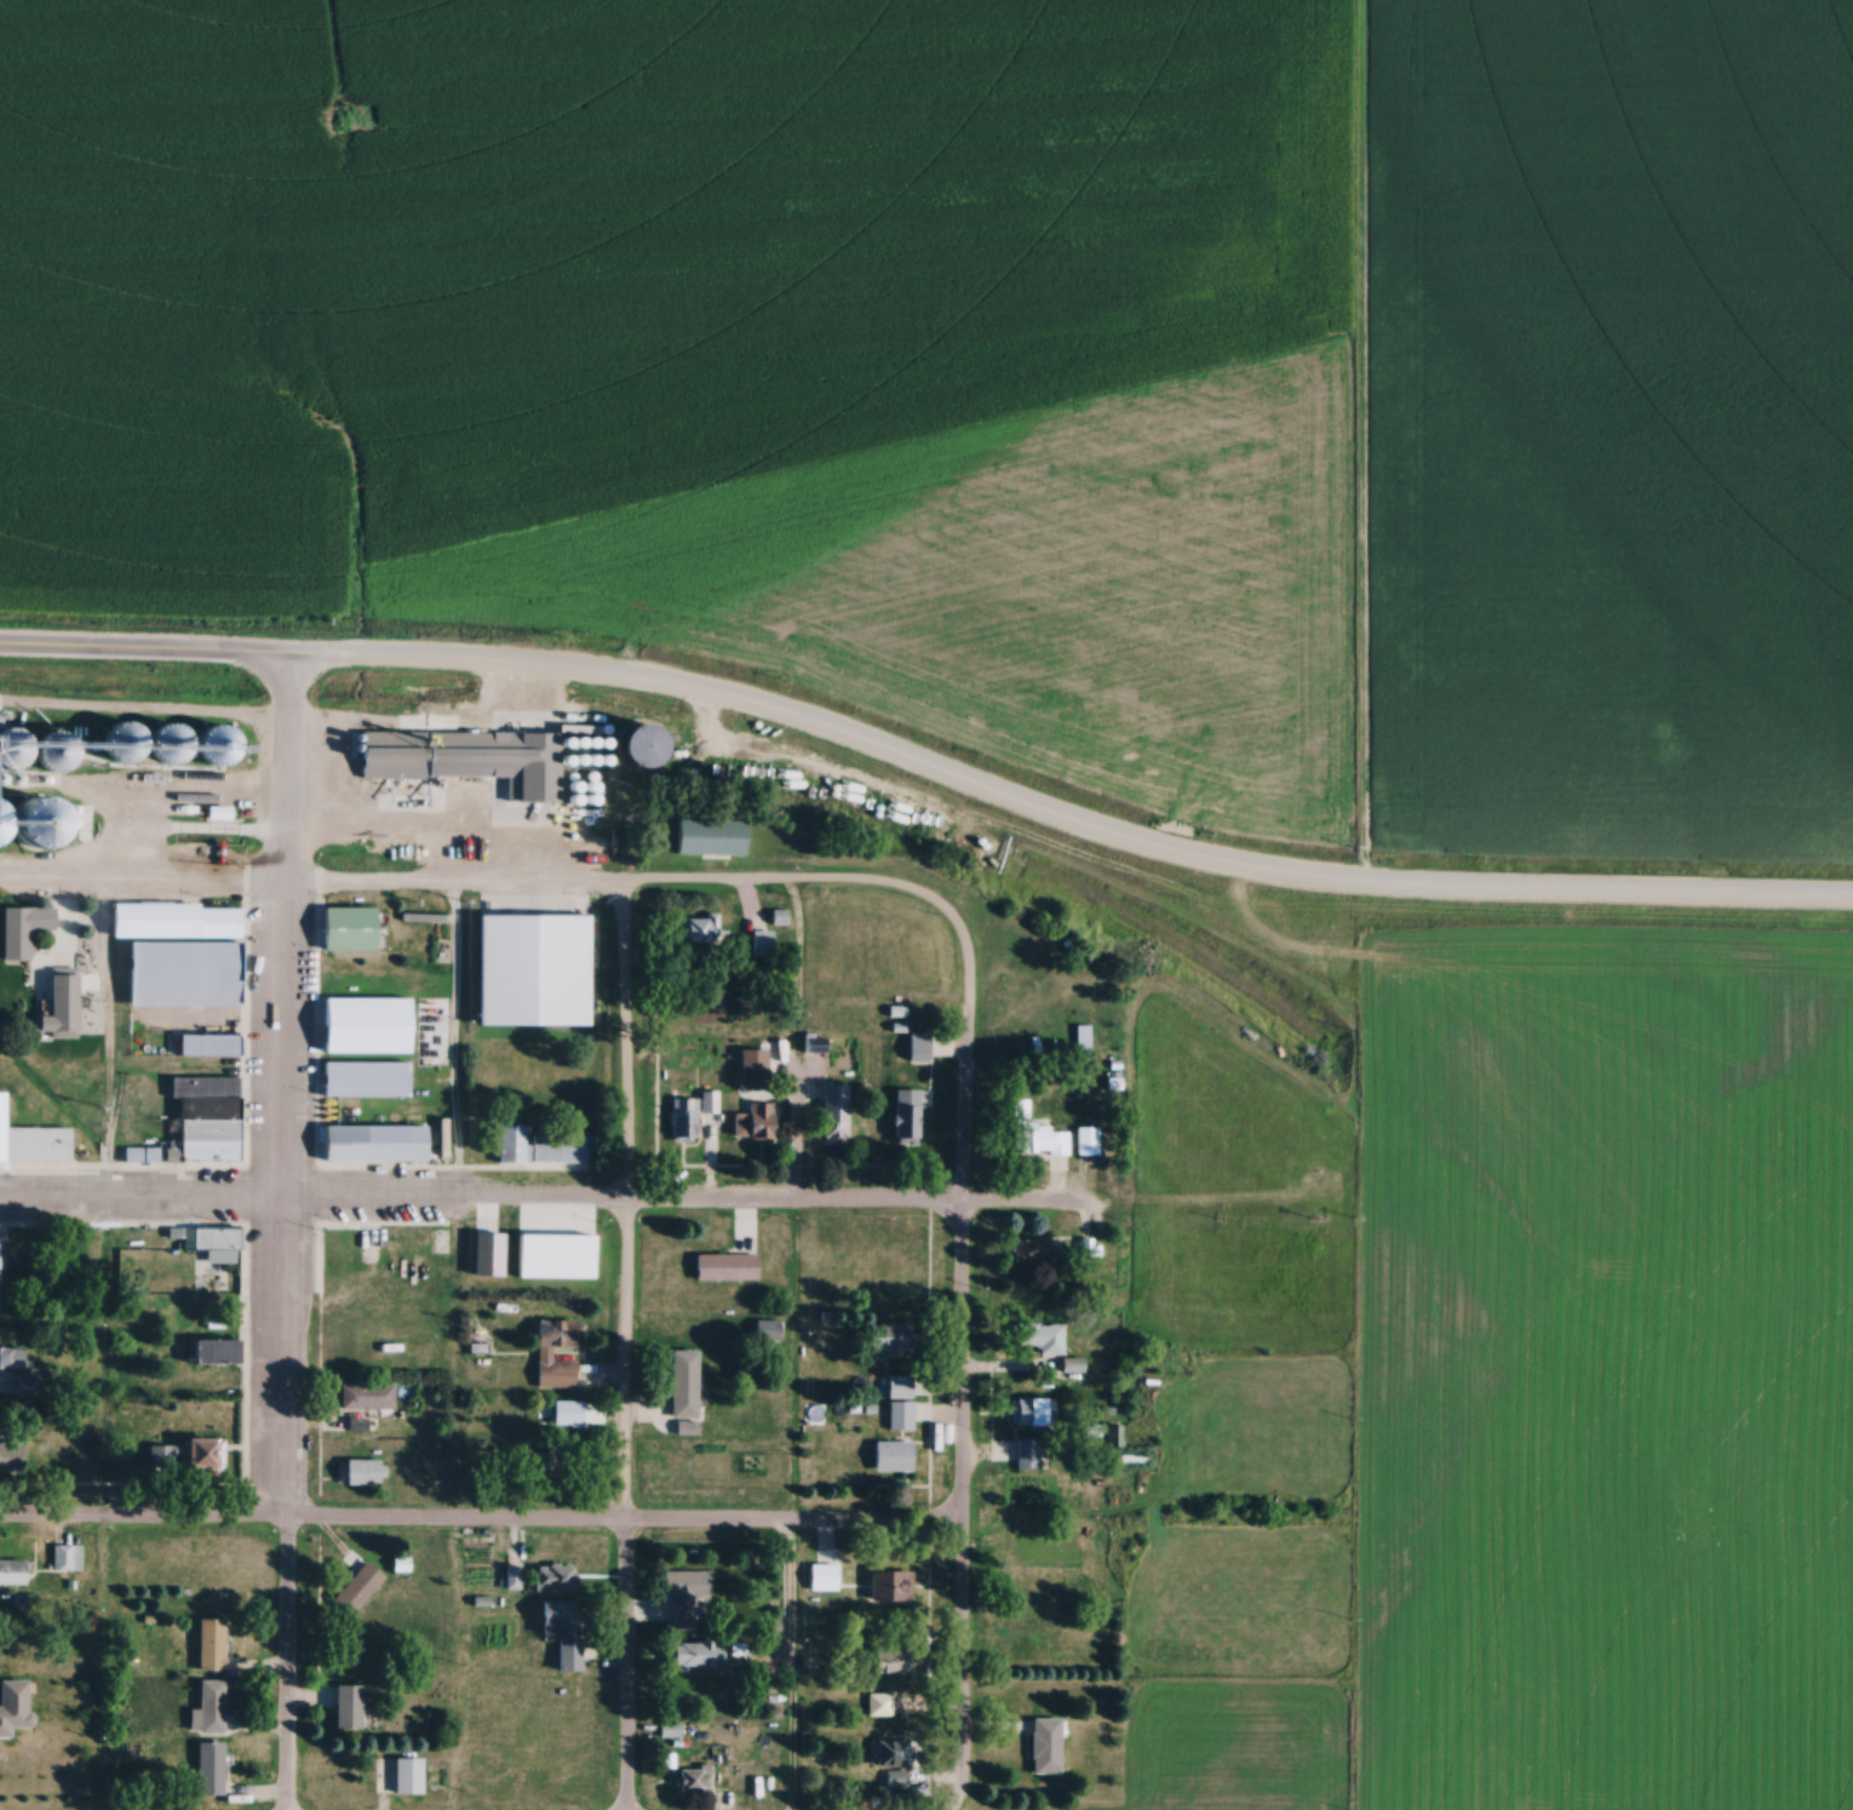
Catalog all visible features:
road: (142, 654)
road: (426, 731)
building: (208, 748)
building: (476, 754)
road: (1060, 824)
road: (396, 888)
building: (174, 921)
building: (563, 927)
building: (700, 928)
building: (22, 929)
building: (348, 929)
building: (761, 943)
building: (182, 974)
building: (59, 1006)
building: (365, 1024)
building: (1079, 1041)
building: (814, 1042)
building: (205, 1044)
road: (799, 1044)
road: (109, 1046)
building: (916, 1046)
building: (753, 1067)
building: (365, 1078)
building: (711, 1101)
building: (833, 1112)
building: (905, 1113)
building: (685, 1118)
building: (203, 1119)
building: (755, 1121)
building: (1032, 1130)
building: (1084, 1139)
building: (372, 1141)
building: (33, 1144)
building: (545, 1145)
building: (139, 1155)
road: (555, 1203)
road: (280, 1235)
building: (212, 1242)
building: (340, 1244)
building: (583, 1245)
building: (1029, 1250)
building: (732, 1260)
road: (963, 1281)
building: (1040, 1336)
building: (885, 1341)
road: (626, 1347)
building: (213, 1351)
building: (544, 1352)
building: (1071, 1364)
building: (21, 1374)
building: (682, 1382)
building: (899, 1386)
building: (368, 1394)
building: (566, 1410)
building: (1029, 1410)
building: (900, 1415)
building: (1113, 1434)
building: (190, 1454)
building: (1027, 1454)
building: (11, 1455)
building: (890, 1455)
building: (361, 1471)
road: (481, 1522)
building: (69, 1558)
building: (15, 1571)
building: (552, 1577)
building: (890, 1585)
building: (356, 1590)
building: (681, 1593)
building: (561, 1629)
building: (210, 1644)
building: (693, 1654)
building: (887, 1659)
road: (791, 1668)
building: (878, 1702)
building: (12, 1703)
building: (211, 1706)
building: (346, 1706)
building: (670, 1729)
building: (1043, 1745)
building: (889, 1752)
building: (210, 1766)
building: (400, 1775)
building: (694, 1779)

